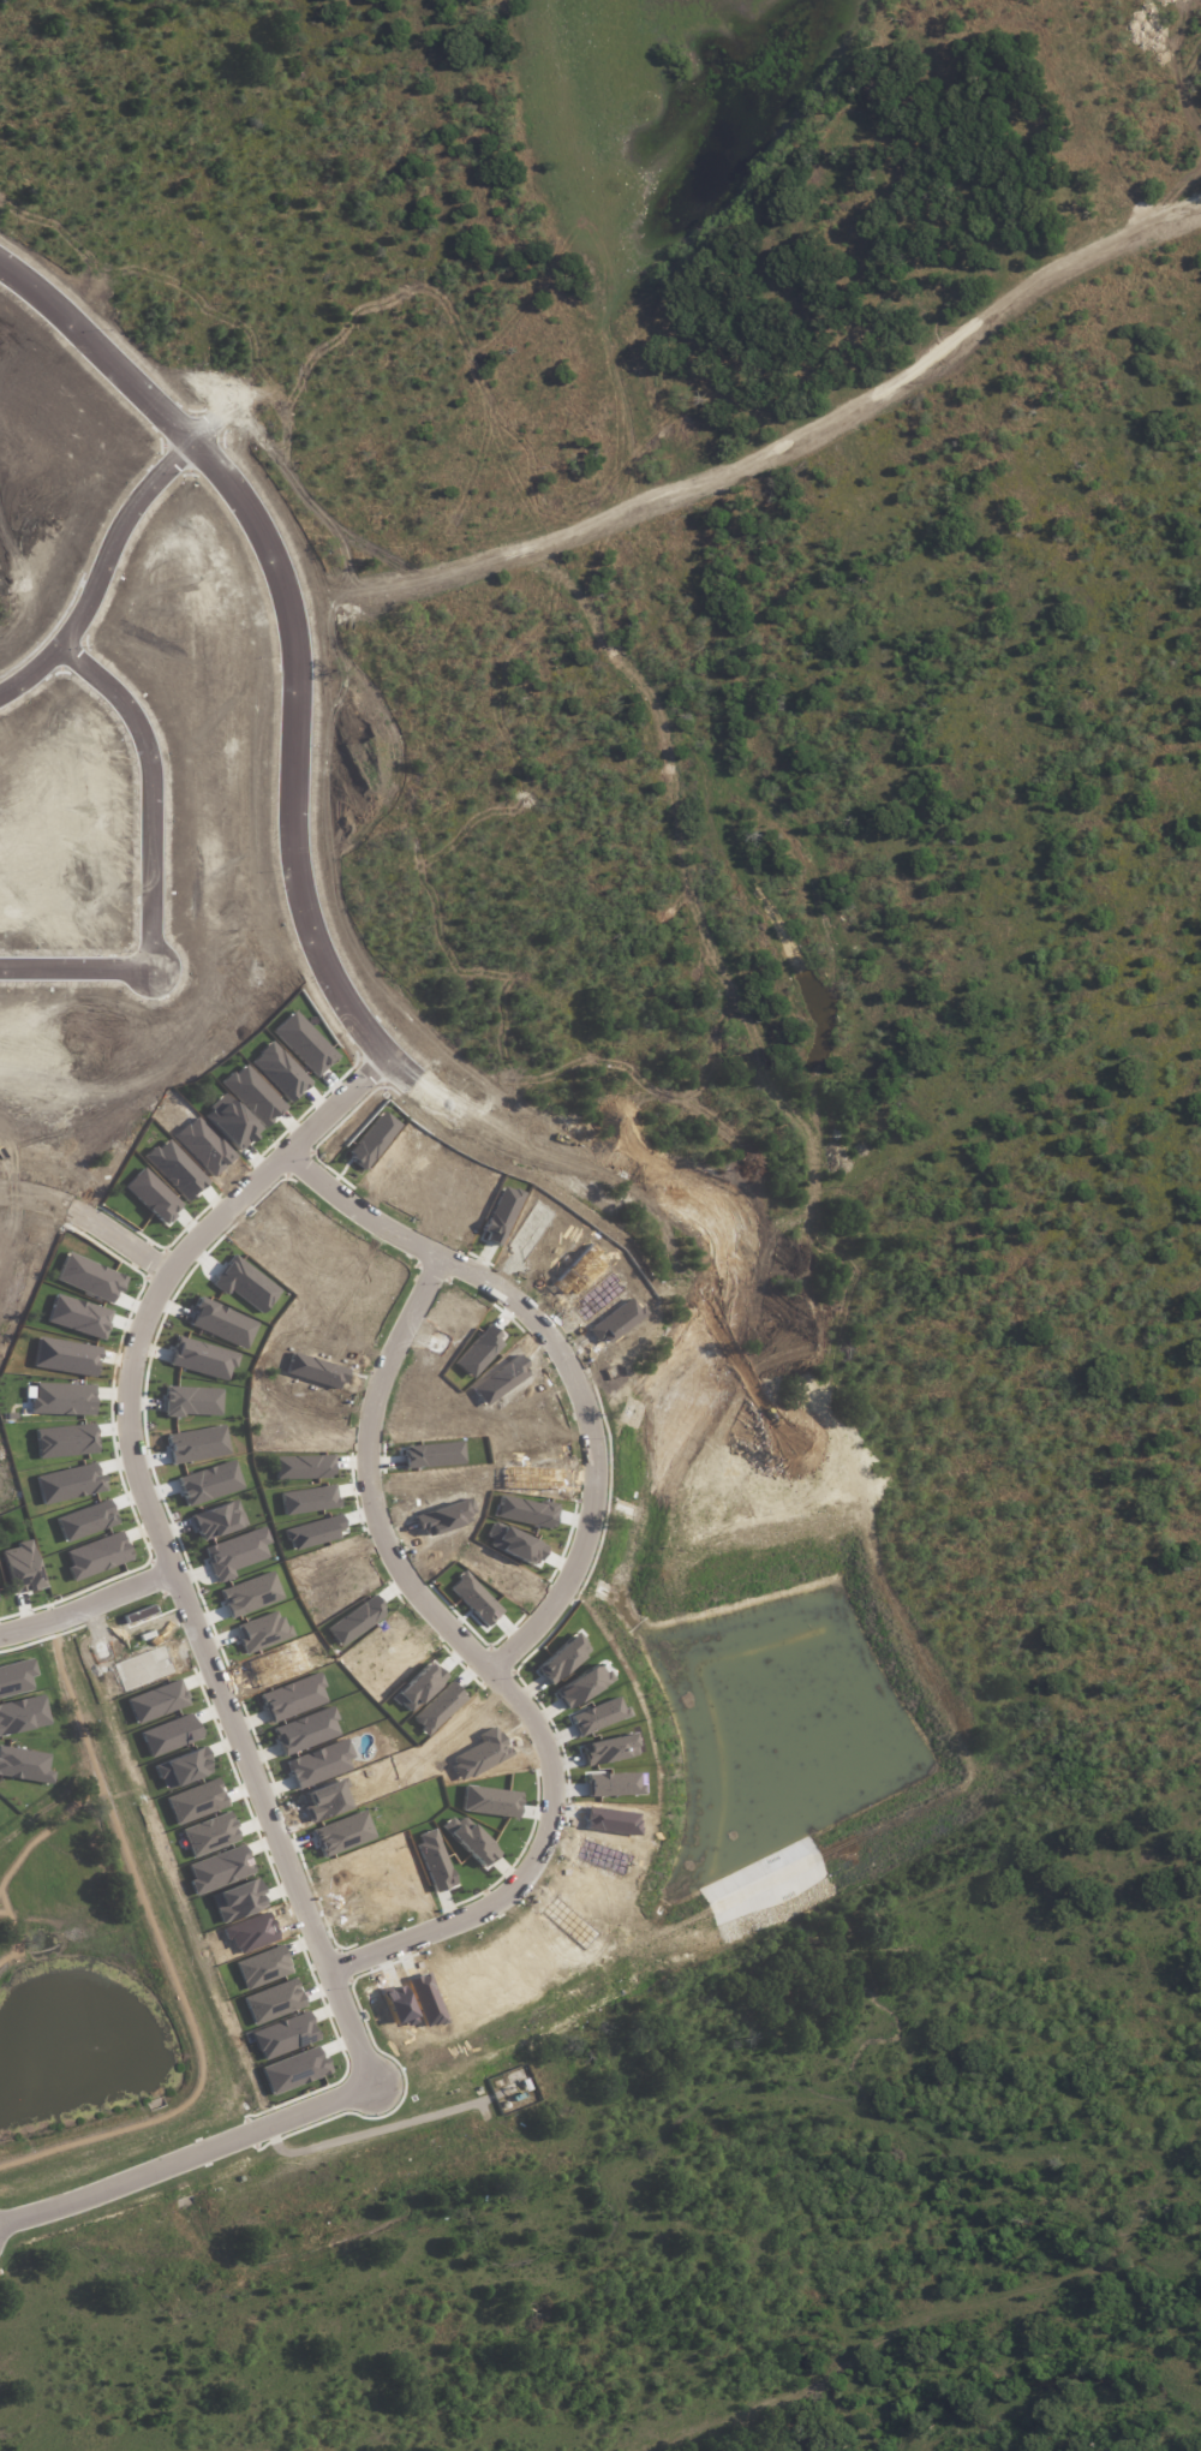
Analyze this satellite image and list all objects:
road: (297, 336)
building: (110, 431)
building: (84, 464)
road: (582, 466)
building: (64, 496)
building: (50, 532)
road: (107, 562)
building: (195, 662)
road: (280, 681)
road: (629, 688)
building: (209, 716)
building: (220, 759)
road: (501, 771)
building: (217, 795)
building: (91, 807)
building: (223, 834)
building: (94, 846)
road: (156, 854)
building: (92, 882)
building: (92, 916)
road: (275, 926)
road: (229, 932)
road: (620, 997)
road: (377, 1027)
road: (95, 1205)
road: (175, 1268)
road: (1163, 1443)
road: (372, 1473)
road: (1047, 1496)
road: (573, 1572)
road: (84, 1593)
road: (1100, 1740)
road: (268, 1818)
road: (1193, 1892)
road: (1113, 1998)
road: (189, 2148)
road: (4, 2225)
road: (330, 2363)
road: (23, 2375)
road: (14, 2397)
road: (423, 2437)

